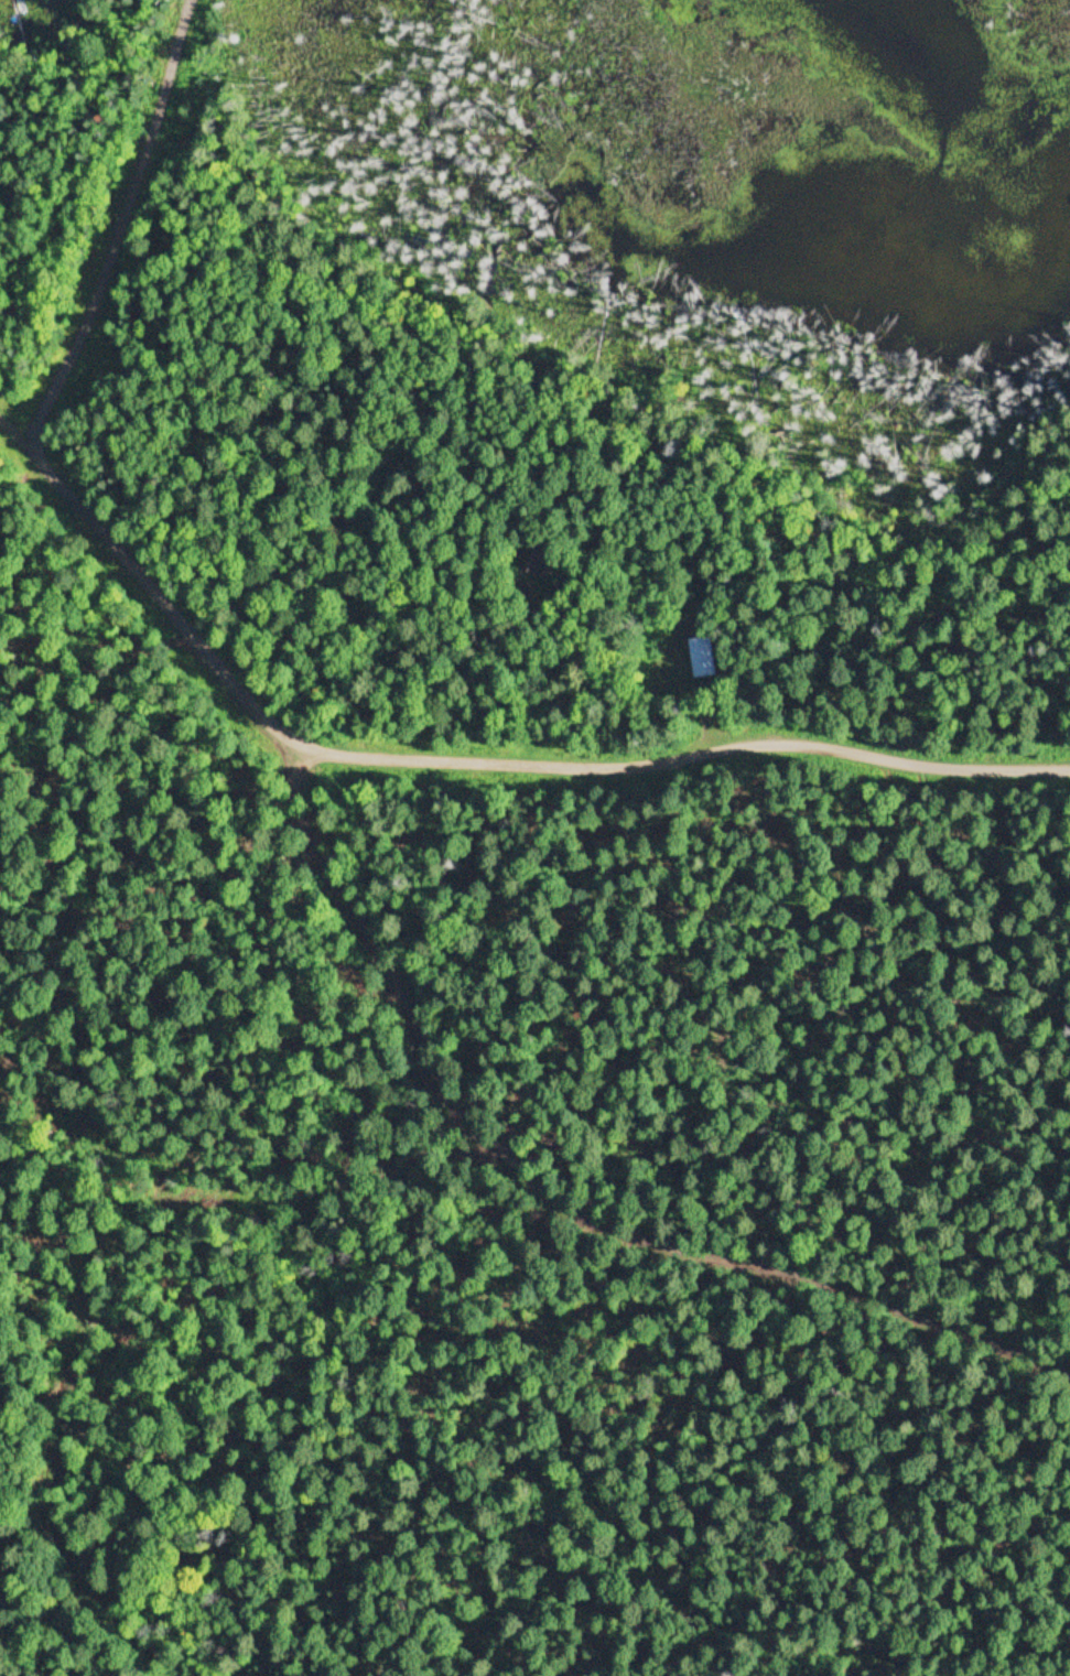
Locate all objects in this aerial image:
road: (121, 227)
building: (538, 559)
building: (700, 655)
road: (688, 707)
road: (463, 760)
road: (563, 1207)

